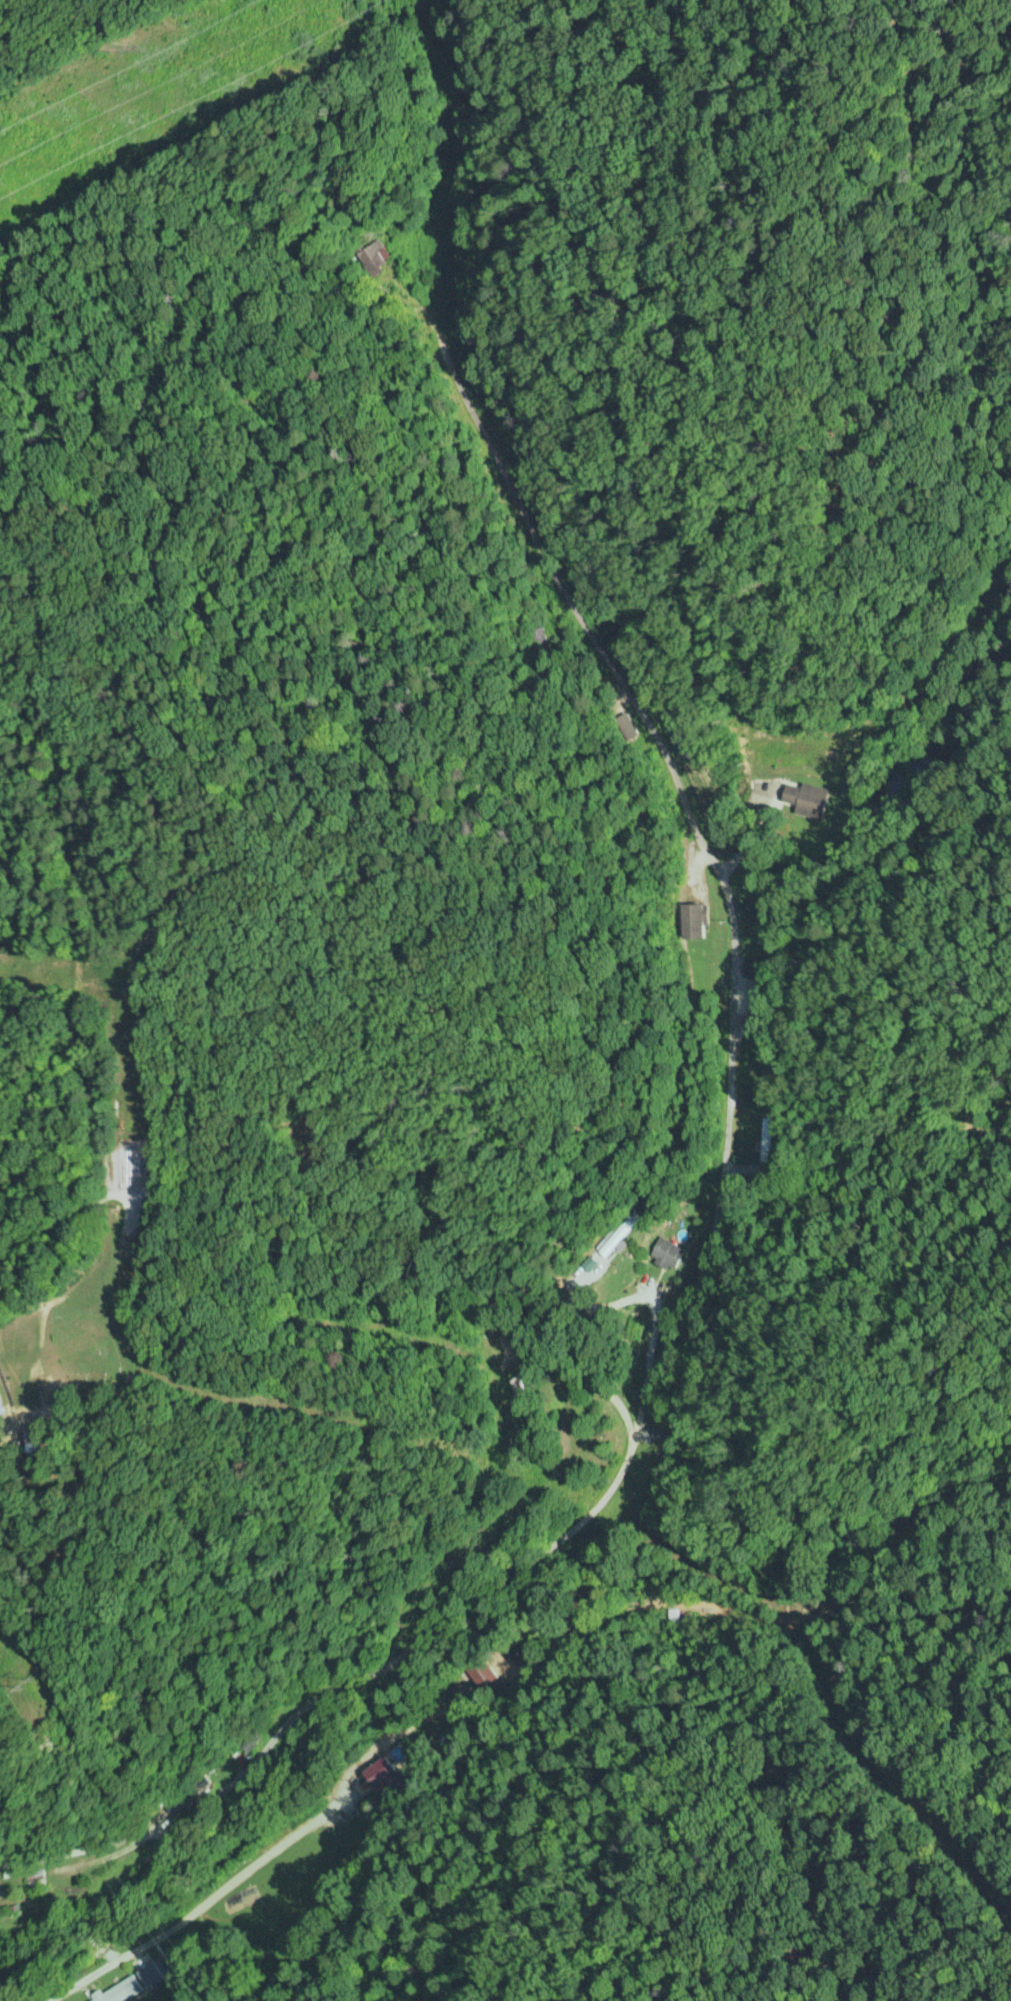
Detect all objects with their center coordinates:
building: (373, 256)
building: (804, 799)
building: (691, 919)
building: (767, 1140)
building: (615, 1235)
building: (665, 1251)
building: (516, 1389)
building: (0, 1409)
building: (653, 1462)
road: (394, 1756)
building: (380, 1770)
building: (34, 1879)
building: (151, 1972)
building: (119, 1990)

